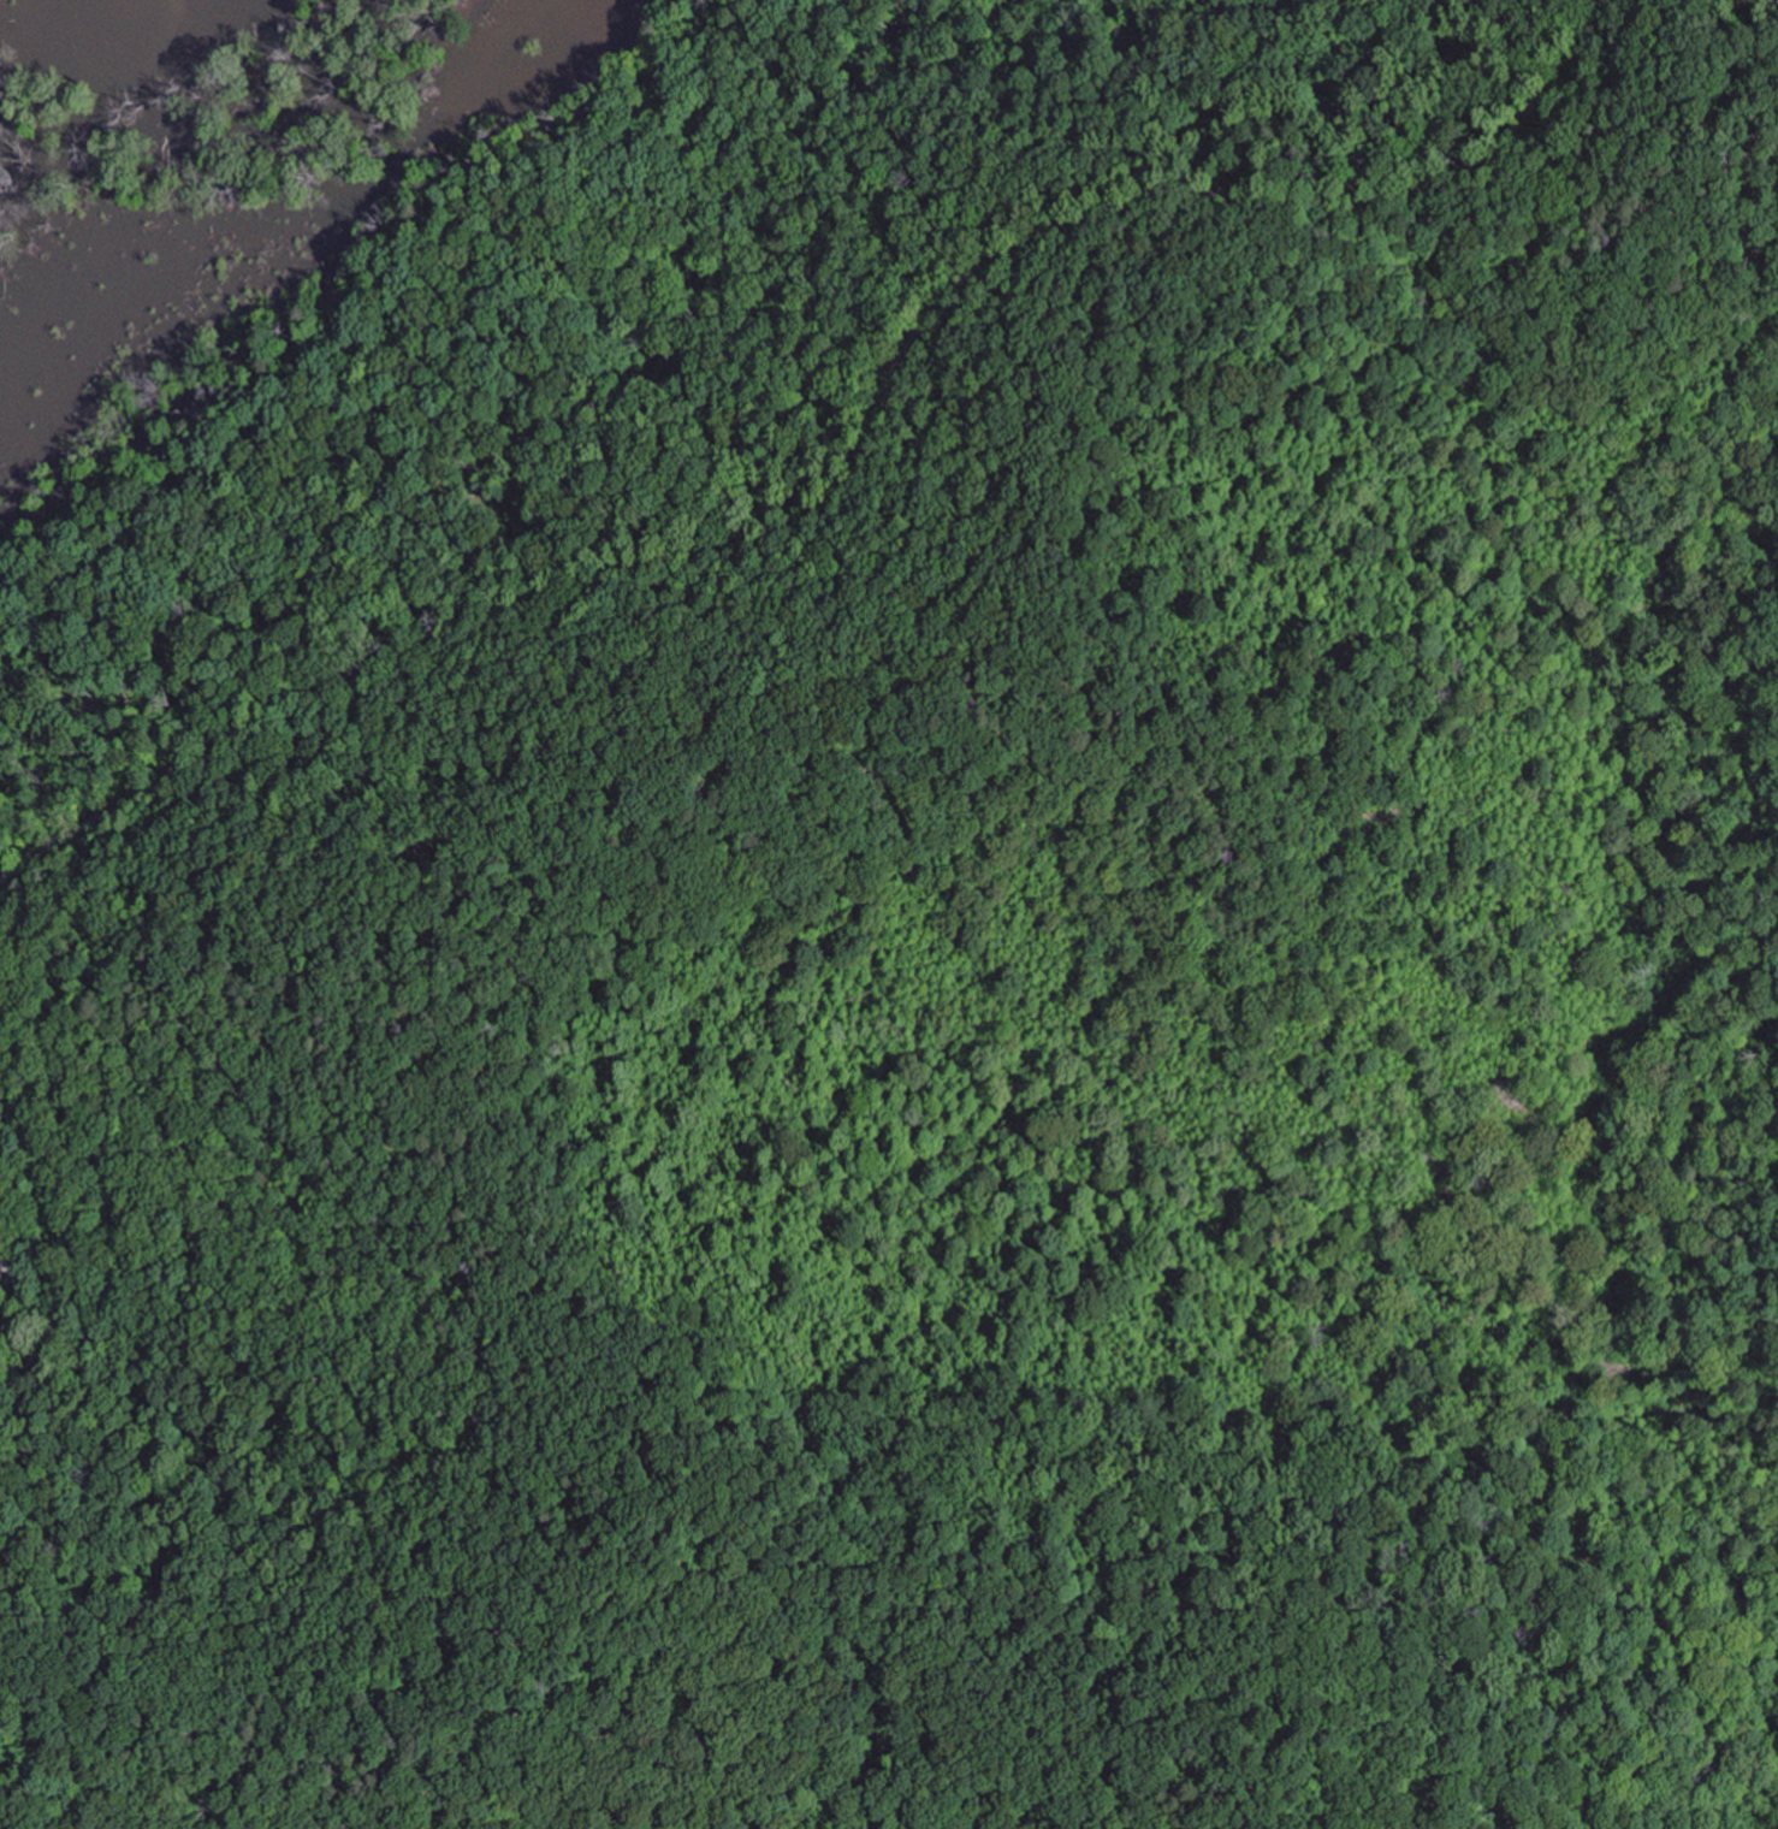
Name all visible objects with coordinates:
road: (1764, 0)
road: (901, 350)
road: (66, 837)
road: (48, 1321)

